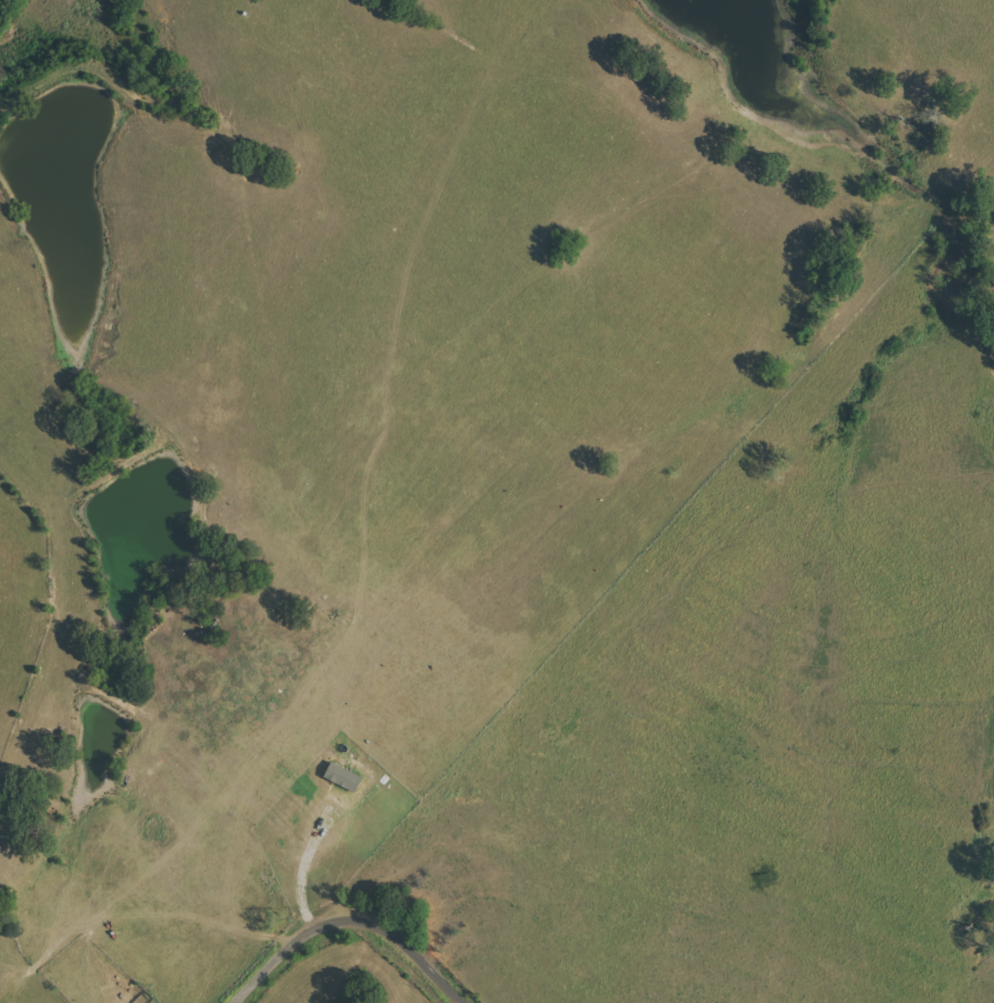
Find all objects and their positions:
building: (342, 777)
road: (376, 973)

